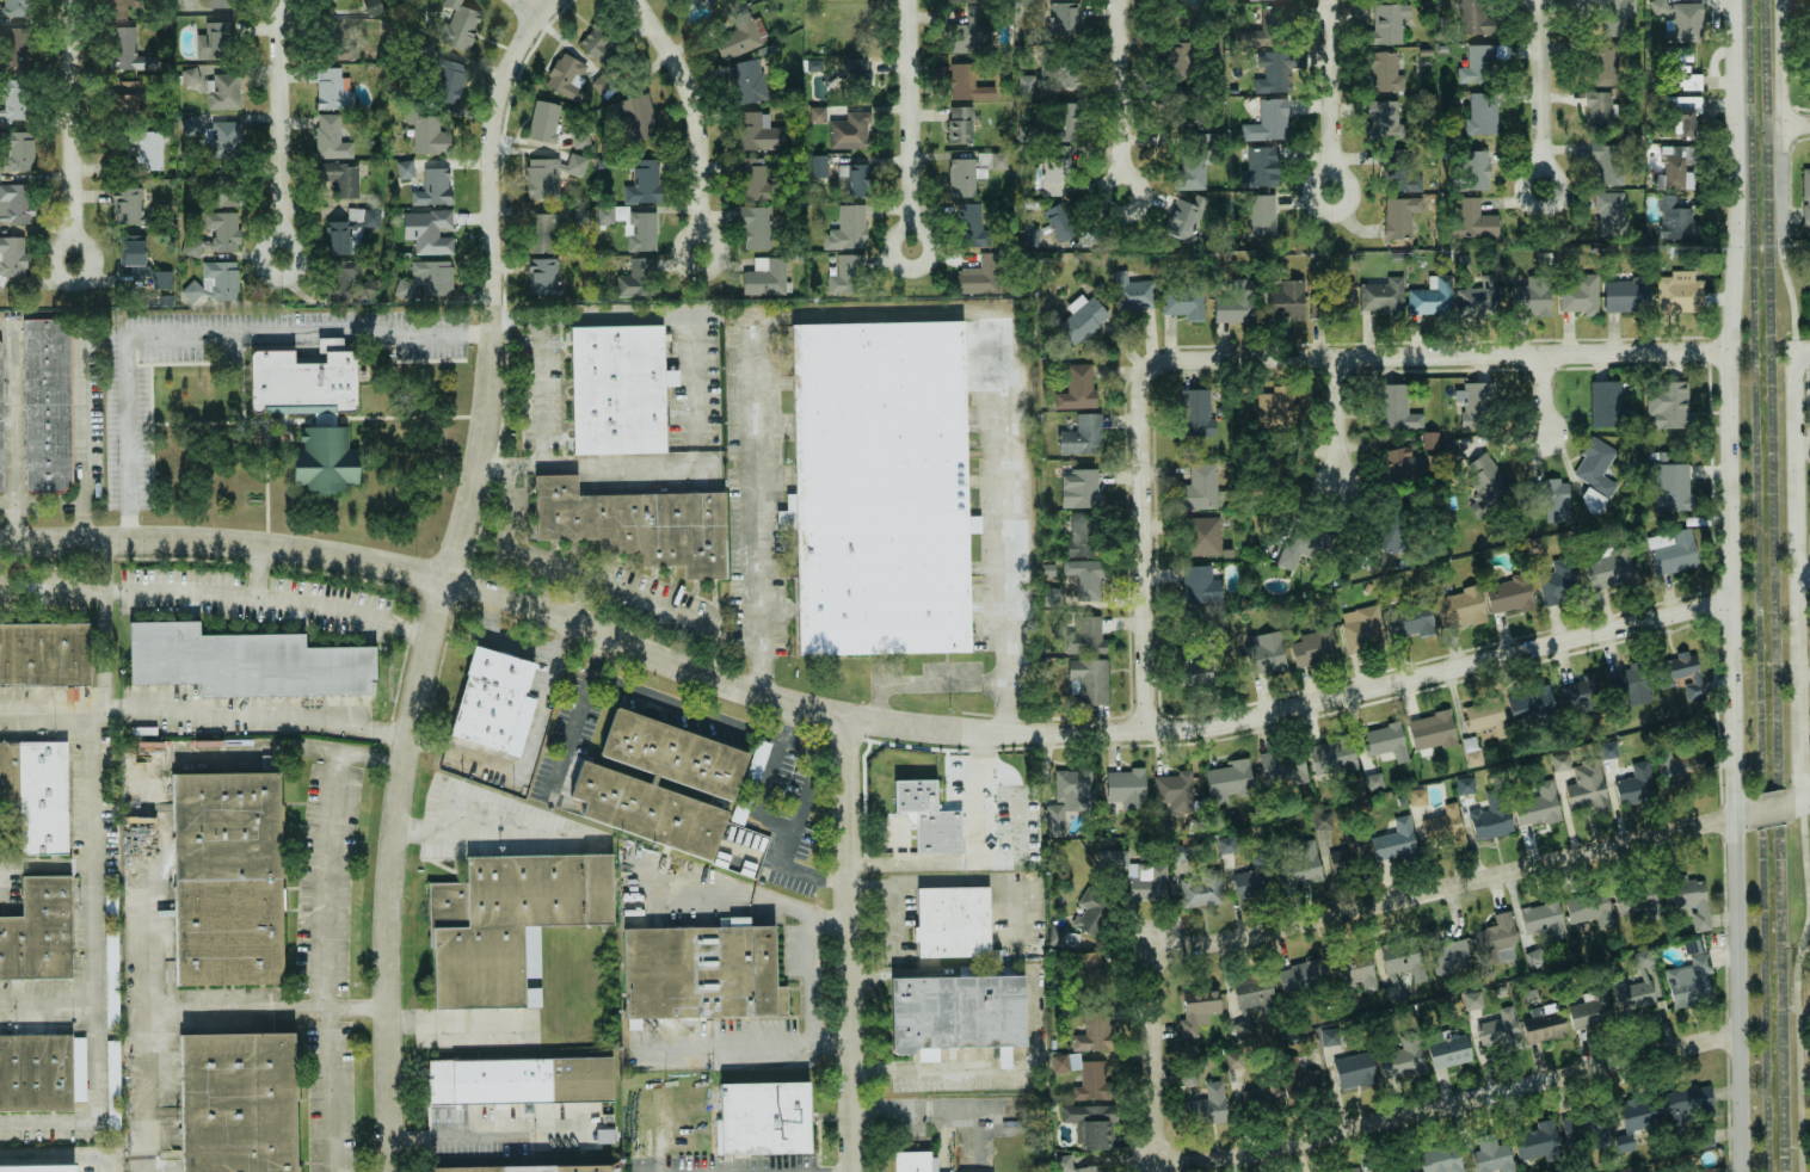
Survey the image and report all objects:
building: (710, 0)
building: (965, 0)
building: (1256, 0)
building: (124, 2)
building: (683, 2)
building: (207, 5)
building: (373, 7)
road: (521, 8)
building: (16, 10)
building: (1609, 14)
building: (1475, 17)
building: (1063, 19)
building: (1680, 20)
building: (1387, 24)
building: (457, 25)
building: (1267, 29)
building: (971, 32)
building: (740, 36)
building: (217, 39)
building: (597, 44)
building: (127, 51)
building: (1177, 58)
building: (1478, 64)
building: (1605, 64)
building: (1278, 70)
building: (1679, 70)
building: (852, 72)
building: (1384, 73)
building: (1054, 76)
building: (567, 78)
building: (750, 80)
building: (449, 81)
building: (966, 84)
building: (1027, 84)
building: (214, 86)
building: (332, 90)
building: (1178, 92)
road: (1541, 93)
road: (1329, 97)
building: (13, 99)
building: (124, 99)
road: (1120, 99)
building: (1599, 111)
building: (1482, 113)
building: (1683, 113)
building: (817, 115)
building: (635, 117)
road: (1786, 117)
road: (692, 119)
building: (1384, 121)
building: (543, 122)
building: (1268, 122)
building: (959, 124)
building: (190, 125)
road: (911, 127)
road: (1798, 127)
road: (276, 130)
road: (68, 131)
building: (850, 131)
building: (759, 132)
building: (429, 134)
building: (332, 137)
building: (580, 138)
building: (222, 140)
building: (143, 148)
building: (17, 150)
building: (999, 160)
building: (1606, 165)
building: (819, 166)
road: (1736, 166)
building: (1261, 167)
building: (1675, 167)
building: (405, 169)
building: (1055, 169)
building: (1190, 169)
building: (1473, 169)
building: (1398, 172)
building: (542, 178)
building: (961, 178)
building: (856, 179)
building: (343, 180)
building: (644, 183)
building: (756, 184)
building: (433, 187)
building: (227, 192)
building: (1805, 193)
building: (16, 203)
building: (127, 205)
building: (1609, 214)
building: (1258, 217)
building: (1397, 218)
building: (1182, 220)
building: (1473, 220)
building: (1675, 220)
building: (1059, 222)
building: (756, 228)
building: (848, 228)
building: (638, 229)
building: (350, 230)
building: (427, 230)
building: (544, 233)
building: (216, 235)
building: (12, 257)
building: (131, 257)
building: (546, 275)
building: (848, 275)
building: (981, 276)
building: (765, 277)
building: (340, 278)
building: (427, 278)
building: (638, 278)
building: (161, 279)
building: (215, 282)
road: (1790, 291)
building: (1132, 292)
building: (1680, 292)
building: (1580, 295)
building: (1626, 295)
building: (1383, 296)
building: (1432, 297)
building: (1478, 297)
building: (1531, 300)
building: (1236, 302)
building: (1286, 302)
building: (1184, 303)
building: (1334, 303)
road: (728, 313)
road: (513, 317)
building: (1082, 319)
road: (203, 335)
road: (1803, 348)
road: (1441, 356)
building: (617, 384)
building: (1077, 388)
road: (1546, 394)
building: (45, 405)
building: (1475, 405)
building: (1668, 405)
building: (1607, 406)
building: (1275, 408)
building: (1396, 408)
building: (1196, 414)
building: (324, 419)
road: (1340, 424)
road: (10, 426)
road: (82, 432)
building: (1083, 436)
building: (0, 442)
road: (703, 443)
building: (1403, 463)
road: (491, 464)
building: (1595, 467)
building: (1485, 482)
building: (1200, 487)
building: (1673, 487)
building: (879, 488)
building: (1081, 488)
road: (1006, 498)
building: (1556, 500)
building: (1594, 502)
road: (767, 505)
building: (636, 525)
building: (1392, 529)
building: (1082, 535)
building: (1203, 536)
building: (1306, 544)
road: (1145, 550)
building: (1672, 551)
building: (1608, 569)
road: (258, 570)
road: (1798, 575)
road: (441, 578)
building: (1089, 578)
building: (1559, 582)
road: (1804, 582)
building: (1201, 585)
building: (1509, 594)
building: (1049, 597)
road: (270, 598)
building: (1459, 607)
road: (675, 612)
building: (1409, 619)
road: (577, 623)
building: (1362, 629)
road: (501, 635)
building: (1086, 635)
building: (1313, 647)
building: (1264, 653)
building: (44, 654)
building: (242, 662)
building: (1196, 670)
road: (1442, 672)
building: (1679, 674)
building: (1090, 679)
road: (925, 681)
building: (1629, 685)
building: (1581, 691)
road: (540, 697)
building: (488, 699)
building: (1531, 703)
road: (1008, 707)
road: (55, 709)
road: (257, 714)
road: (574, 716)
building: (1485, 718)
building: (1432, 730)
road: (790, 741)
building: (1385, 741)
building: (1608, 750)
building: (1472, 751)
road: (1737, 751)
building: (1331, 757)
road: (460, 761)
building: (1560, 761)
building: (1680, 764)
building: (1283, 770)
road: (765, 778)
building: (1230, 781)
building: (1374, 782)
building: (1465, 785)
building: (1636, 785)
building: (614, 787)
building: (1587, 787)
building: (1126, 789)
road: (962, 791)
building: (1174, 791)
building: (37, 796)
building: (1069, 797)
building: (1417, 797)
road: (1797, 802)
building: (1537, 807)
road: (1772, 808)
road: (1748, 813)
building: (924, 818)
building: (1490, 819)
park: (1017, 826)
building: (1445, 826)
road: (494, 831)
road: (144, 839)
building: (1395, 841)
road: (899, 844)
building: (1226, 845)
road: (1806, 847)
road: (110, 852)
building: (1180, 852)
road: (2, 856)
building: (1349, 856)
building: (1113, 858)
road: (973, 859)
road: (56, 863)
building: (1300, 865)
building: (227, 881)
road: (975, 881)
building: (1252, 882)
road: (1446, 888)
road: (891, 889)
building: (1201, 889)
road: (702, 897)
building: (1636, 899)
building: (1687, 900)
road: (798, 909)
building: (1590, 909)
building: (1094, 912)
building: (1544, 918)
building: (506, 923)
building: (950, 925)
building: (36, 934)
building: (1057, 936)
building: (1496, 939)
road: (845, 944)
building: (1693, 946)
building: (111, 950)
road: (1805, 950)
building: (1449, 957)
building: (1535, 958)
road: (320, 963)
building: (1400, 967)
building: (1357, 970)
building: (700, 973)
building: (1089, 973)
building: (1301, 977)
building: (1689, 982)
building: (1636, 986)
building: (1251, 999)
building: (1473, 1000)
road: (55, 1001)
building: (1198, 1007)
road: (352, 1008)
building: (1592, 1008)
road: (235, 1011)
building: (953, 1014)
road: (460, 1020)
building: (1544, 1024)
road: (808, 1025)
building: (1095, 1030)
building: (1501, 1031)
building: (1329, 1037)
park: (1805, 1037)
road: (829, 1043)
road: (673, 1044)
road: (1798, 1044)
building: (1447, 1049)
road: (1149, 1060)
building: (1235, 1060)
building: (1402, 1060)
building: (1354, 1071)
building: (35, 1074)
road: (932, 1075)
building: (518, 1082)
building: (1092, 1082)
building: (112, 1085)
building: (238, 1103)
road: (1447, 1104)
building: (1686, 1104)
building: (1208, 1105)
building: (1637, 1118)
building: (763, 1119)
building: (1090, 1125)
building: (1584, 1128)
road: (484, 1129)
building: (607, 1136)
building: (1538, 1141)
building: (1491, 1155)
road: (59, 1158)
building: (1441, 1159)
building: (911, 1162)
building: (1064, 1164)
building: (1392, 1167)
building: (53, 1168)
building: (1091, 1168)
building: (530, 1170)
building: (1349, 1170)
building: (1706, 1170)

